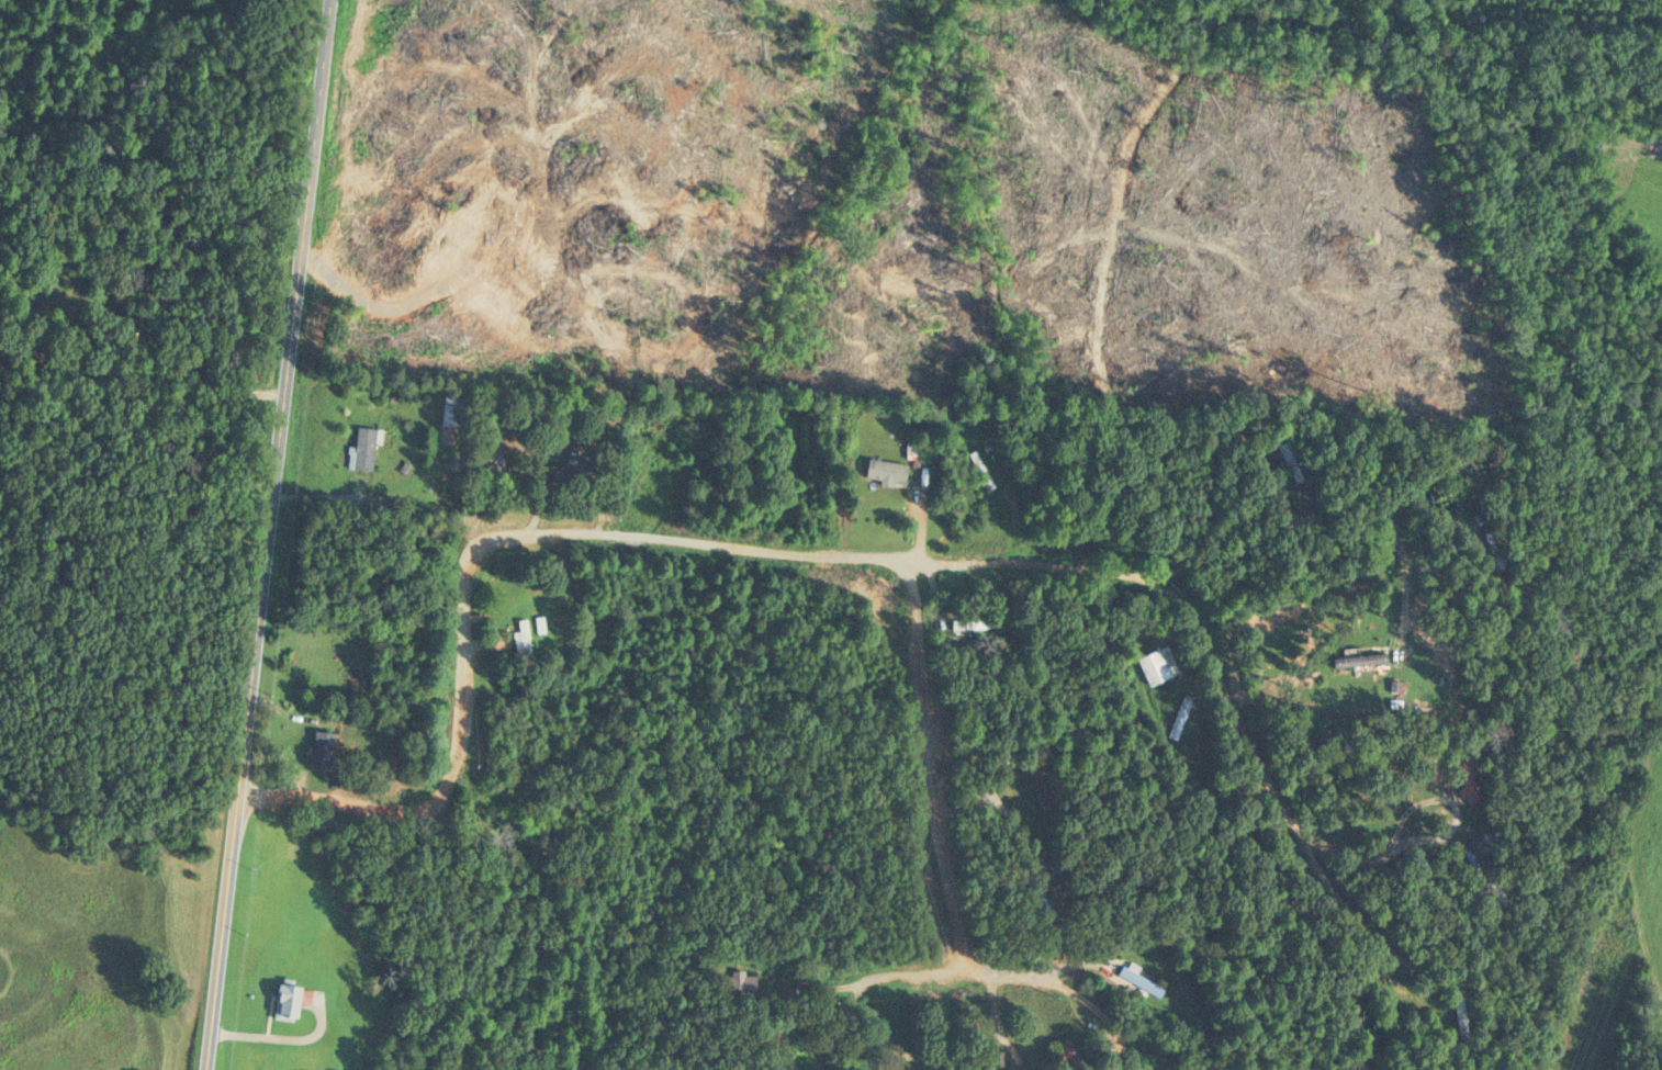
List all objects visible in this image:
road: (138, 373)
building: (491, 410)
building: (446, 414)
building: (357, 448)
building: (576, 462)
building: (880, 470)
building: (978, 470)
road: (1335, 514)
road: (262, 534)
road: (818, 554)
building: (580, 612)
building: (965, 623)
building: (518, 639)
building: (1355, 660)
building: (1155, 664)
building: (1177, 716)
building: (315, 748)
road: (937, 759)
building: (1461, 778)
road: (1422, 838)
building: (1037, 901)
road: (975, 966)
building: (1137, 981)
building: (737, 983)
building: (281, 1002)
building: (1457, 1016)
building: (1055, 1058)

